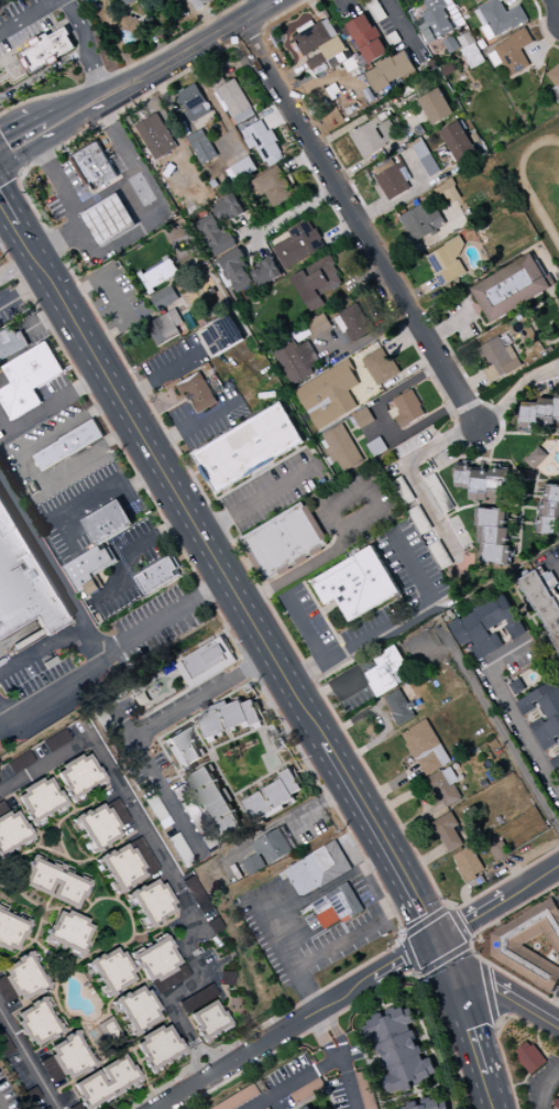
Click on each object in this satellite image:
road: (272, 1)
building: (478, 1)
building: (128, 2)
road: (557, 2)
building: (200, 3)
building: (375, 10)
road: (395, 14)
road: (28, 15)
building: (498, 19)
building: (435, 20)
road: (76, 23)
building: (132, 24)
building: (364, 39)
road: (206, 41)
building: (320, 44)
building: (47, 50)
building: (514, 52)
road: (91, 69)
building: (390, 70)
building: (556, 70)
road: (44, 74)
road: (118, 86)
road: (118, 95)
road: (75, 101)
building: (194, 102)
building: (234, 102)
building: (436, 107)
road: (84, 119)
road: (25, 123)
building: (374, 135)
building: (156, 137)
building: (458, 141)
building: (262, 142)
building: (201, 146)
road: (33, 150)
building: (424, 156)
building: (96, 167)
building: (240, 170)
road: (138, 172)
building: (393, 180)
building: (273, 187)
building: (141, 189)
building: (449, 192)
road: (399, 200)
building: (227, 208)
road: (296, 210)
road: (76, 213)
building: (109, 221)
gas station: (109, 221)
building: (421, 221)
road: (361, 226)
road: (8, 229)
road: (130, 236)
building: (215, 237)
building: (298, 244)
building: (448, 263)
road: (18, 269)
building: (235, 271)
building: (265, 272)
building: (160, 275)
building: (317, 282)
building: (511, 289)
building: (164, 298)
road: (118, 301)
building: (353, 324)
building: (318, 325)
building: (164, 327)
building: (221, 335)
building: (11, 343)
building: (498, 359)
building: (296, 361)
building: (381, 367)
road: (158, 377)
building: (28, 380)
building: (197, 393)
road: (516, 394)
building: (328, 395)
building: (406, 410)
building: (538, 413)
building: (362, 418)
road: (191, 426)
building: (415, 442)
building: (67, 446)
building: (376, 447)
building: (248, 448)
building: (341, 448)
building: (536, 458)
road: (28, 468)
road: (417, 479)
building: (483, 483)
road: (107, 494)
road: (254, 502)
building: (549, 510)
building: (108, 522)
road: (158, 533)
building: (492, 536)
building: (284, 541)
road: (329, 555)
road: (219, 567)
building: (89, 569)
building: (157, 576)
building: (25, 583)
building: (357, 584)
road: (79, 620)
road: (165, 621)
road: (394, 621)
parking lot: (153, 624)
building: (485, 627)
road: (308, 628)
road: (41, 649)
building: (206, 663)
building: (386, 671)
building: (516, 687)
building: (399, 707)
road: (515, 713)
building: (542, 715)
building: (228, 718)
road: (143, 728)
building: (53, 741)
building: (425, 748)
building: (182, 749)
building: (17, 762)
road: (44, 766)
building: (77, 776)
building: (445, 787)
building: (272, 796)
building: (36, 800)
road: (425, 801)
building: (212, 802)
building: (99, 825)
building: (10, 830)
building: (447, 833)
road: (152, 847)
building: (500, 850)
building: (266, 852)
building: (124, 865)
building: (468, 865)
building: (317, 869)
building: (52, 883)
building: (191, 890)
building: (150, 902)
road: (496, 902)
building: (337, 906)
road: (294, 907)
building: (10, 932)
building: (66, 932)
road: (358, 936)
traffic signals: (436, 941)
building: (512, 953)
building: (157, 965)
building: (109, 971)
building: (223, 978)
building: (20, 979)
road: (494, 986)
building: (134, 1009)
road: (173, 1011)
building: (202, 1013)
building: (34, 1023)
road: (293, 1023)
road: (468, 1023)
building: (387, 1025)
road: (336, 1030)
road: (321, 1039)
building: (2, 1046)
building: (155, 1047)
building: (529, 1057)
building: (64, 1059)
road: (28, 1061)
building: (404, 1063)
road: (351, 1081)
building: (102, 1083)
road: (299, 1084)
road: (548, 1090)
building: (306, 1091)
building: (241, 1099)
building: (429, 1103)
building: (74, 1107)
building: (309, 1107)
building: (44, 1108)

